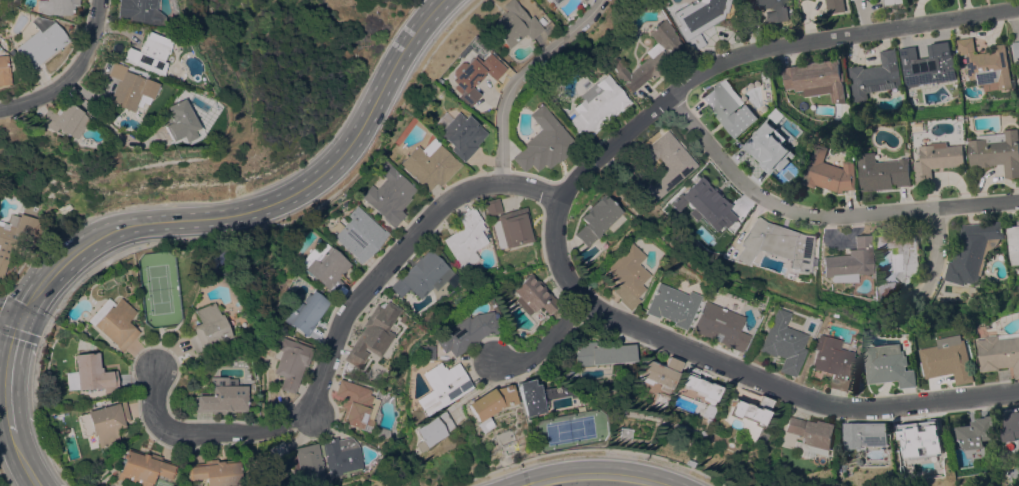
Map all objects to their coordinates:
building: (892, 1)
building: (555, 2)
building: (835, 6)
building: (56, 7)
building: (768, 8)
building: (137, 11)
building: (697, 19)
building: (540, 21)
building: (513, 24)
building: (40, 41)
building: (1016, 48)
road: (764, 52)
building: (145, 53)
building: (649, 57)
building: (927, 64)
building: (987, 64)
building: (3, 71)
building: (473, 72)
road: (71, 74)
building: (875, 76)
road: (521, 77)
building: (816, 79)
building: (120, 87)
building: (596, 106)
building: (729, 107)
building: (60, 120)
building: (172, 122)
road: (96, 127)
building: (460, 135)
building: (543, 143)
building: (997, 151)
building: (772, 152)
building: (935, 159)
building: (667, 164)
building: (428, 166)
building: (828, 171)
building: (882, 172)
building: (388, 196)
road: (266, 205)
building: (492, 206)
road: (822, 213)
building: (711, 218)
building: (595, 219)
building: (513, 227)
building: (15, 235)
building: (356, 235)
building: (465, 238)
building: (1013, 243)
building: (777, 244)
road: (938, 246)
building: (972, 250)
building: (900, 253)
building: (814, 261)
building: (850, 261)
building: (325, 268)
building: (626, 275)
building: (422, 276)
building: (886, 290)
building: (533, 296)
building: (670, 305)
road: (12, 310)
building: (305, 312)
traffic signals: (25, 315)
building: (116, 325)
building: (718, 326)
building: (208, 328)
building: (466, 332)
building: (373, 333)
road: (334, 340)
building: (781, 343)
road: (546, 345)
building: (999, 351)
building: (425, 352)
building: (602, 353)
building: (948, 359)
building: (831, 362)
building: (290, 363)
building: (888, 365)
road: (742, 369)
road: (9, 373)
building: (93, 373)
building: (658, 373)
building: (70, 380)
building: (442, 387)
building: (700, 390)
building: (529, 398)
building: (221, 400)
building: (492, 401)
building: (356, 404)
building: (750, 411)
building: (631, 414)
building: (104, 422)
building: (1011, 424)
building: (433, 429)
building: (812, 431)
building: (975, 432)
building: (700, 434)
building: (864, 434)
building: (917, 439)
building: (278, 450)
building: (342, 456)
road: (23, 460)
building: (688, 463)
building: (309, 465)
building: (143, 468)
building: (215, 472)
road: (596, 477)

